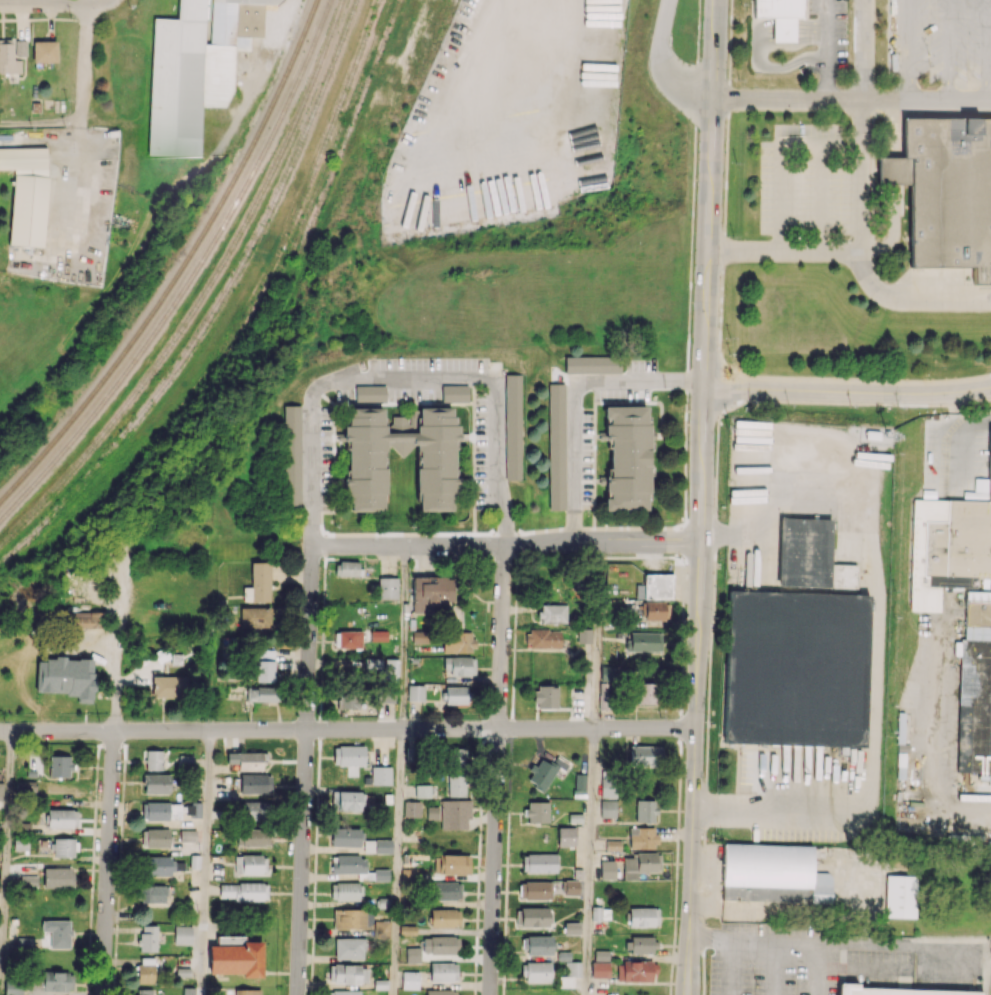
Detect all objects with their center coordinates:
road: (55, 4)
building: (779, 16)
road: (494, 46)
building: (20, 48)
road: (825, 49)
road: (863, 49)
road: (907, 49)
building: (44, 51)
building: (8, 59)
road: (84, 62)
road: (656, 66)
building: (195, 68)
road: (851, 98)
road: (42, 123)
road: (783, 157)
building: (945, 191)
building: (27, 194)
road: (821, 197)
railway: (292, 243)
road: (858, 246)
railway: (183, 266)
railway: (191, 276)
railway: (204, 293)
road: (909, 297)
railway: (216, 306)
railway: (243, 318)
railway: (257, 339)
building: (592, 364)
road: (403, 374)
road: (848, 391)
building: (370, 392)
building: (454, 393)
road: (573, 400)
building: (513, 426)
building: (555, 446)
road: (955, 447)
building: (291, 455)
building: (627, 458)
building: (432, 466)
road: (702, 497)
road: (508, 546)
building: (947, 549)
building: (803, 552)
building: (347, 568)
building: (846, 576)
building: (258, 583)
building: (655, 586)
building: (387, 588)
building: (431, 592)
building: (656, 610)
building: (552, 613)
building: (254, 618)
building: (80, 619)
building: (378, 635)
building: (584, 635)
building: (420, 636)
road: (597, 637)
road: (404, 638)
building: (543, 638)
building: (348, 639)
building: (644, 641)
building: (457, 642)
building: (266, 654)
road: (874, 654)
road: (116, 662)
building: (459, 665)
building: (390, 669)
building: (264, 671)
building: (607, 672)
building: (975, 680)
building: (169, 686)
building: (85, 687)
building: (260, 693)
building: (415, 693)
building: (645, 693)
building: (456, 695)
building: (545, 696)
building: (347, 699)
road: (347, 729)
building: (348, 755)
building: (645, 755)
building: (456, 758)
building: (153, 760)
building: (246, 760)
building: (60, 766)
road: (935, 767)
road: (497, 770)
building: (544, 772)
road: (304, 773)
building: (381, 775)
building: (156, 783)
building: (255, 784)
building: (457, 785)
building: (579, 785)
building: (607, 786)
building: (24, 787)
building: (1, 791)
building: (422, 791)
building: (347, 801)
building: (411, 808)
building: (608, 808)
building: (192, 809)
building: (160, 811)
building: (253, 811)
building: (645, 811)
building: (432, 812)
building: (537, 812)
building: (455, 814)
building: (62, 818)
building: (187, 835)
building: (346, 836)
building: (566, 836)
building: (252, 837)
building: (155, 838)
building: (643, 838)
building: (613, 845)
building: (377, 846)
building: (64, 847)
road: (590, 861)
road: (205, 862)
road: (398, 862)
road: (6, 863)
road: (108, 863)
building: (539, 863)
building: (452, 864)
building: (640, 864)
building: (161, 865)
building: (356, 868)
building: (607, 869)
building: (772, 874)
building: (58, 877)
building: (571, 887)
building: (446, 890)
building: (535, 890)
building: (244, 891)
building: (345, 891)
building: (155, 894)
building: (900, 896)
building: (643, 916)
building: (445, 917)
building: (532, 917)
building: (348, 918)
building: (572, 928)
building: (381, 929)
building: (407, 929)
building: (58, 932)
building: (182, 934)
building: (147, 938)
building: (440, 944)
building: (640, 944)
road: (773, 944)
building: (349, 948)
building: (412, 955)
building: (601, 955)
building: (235, 956)
road: (860, 966)
road: (728, 968)
building: (572, 969)
building: (600, 969)
building: (145, 970)
building: (536, 971)
building: (635, 971)
building: (443, 972)
building: (347, 974)
building: (410, 980)
building: (57, 981)
building: (12, 987)
building: (143, 991)
building: (188, 991)
building: (895, 991)
building: (247, 992)
building: (343, 992)
building: (440, 992)

